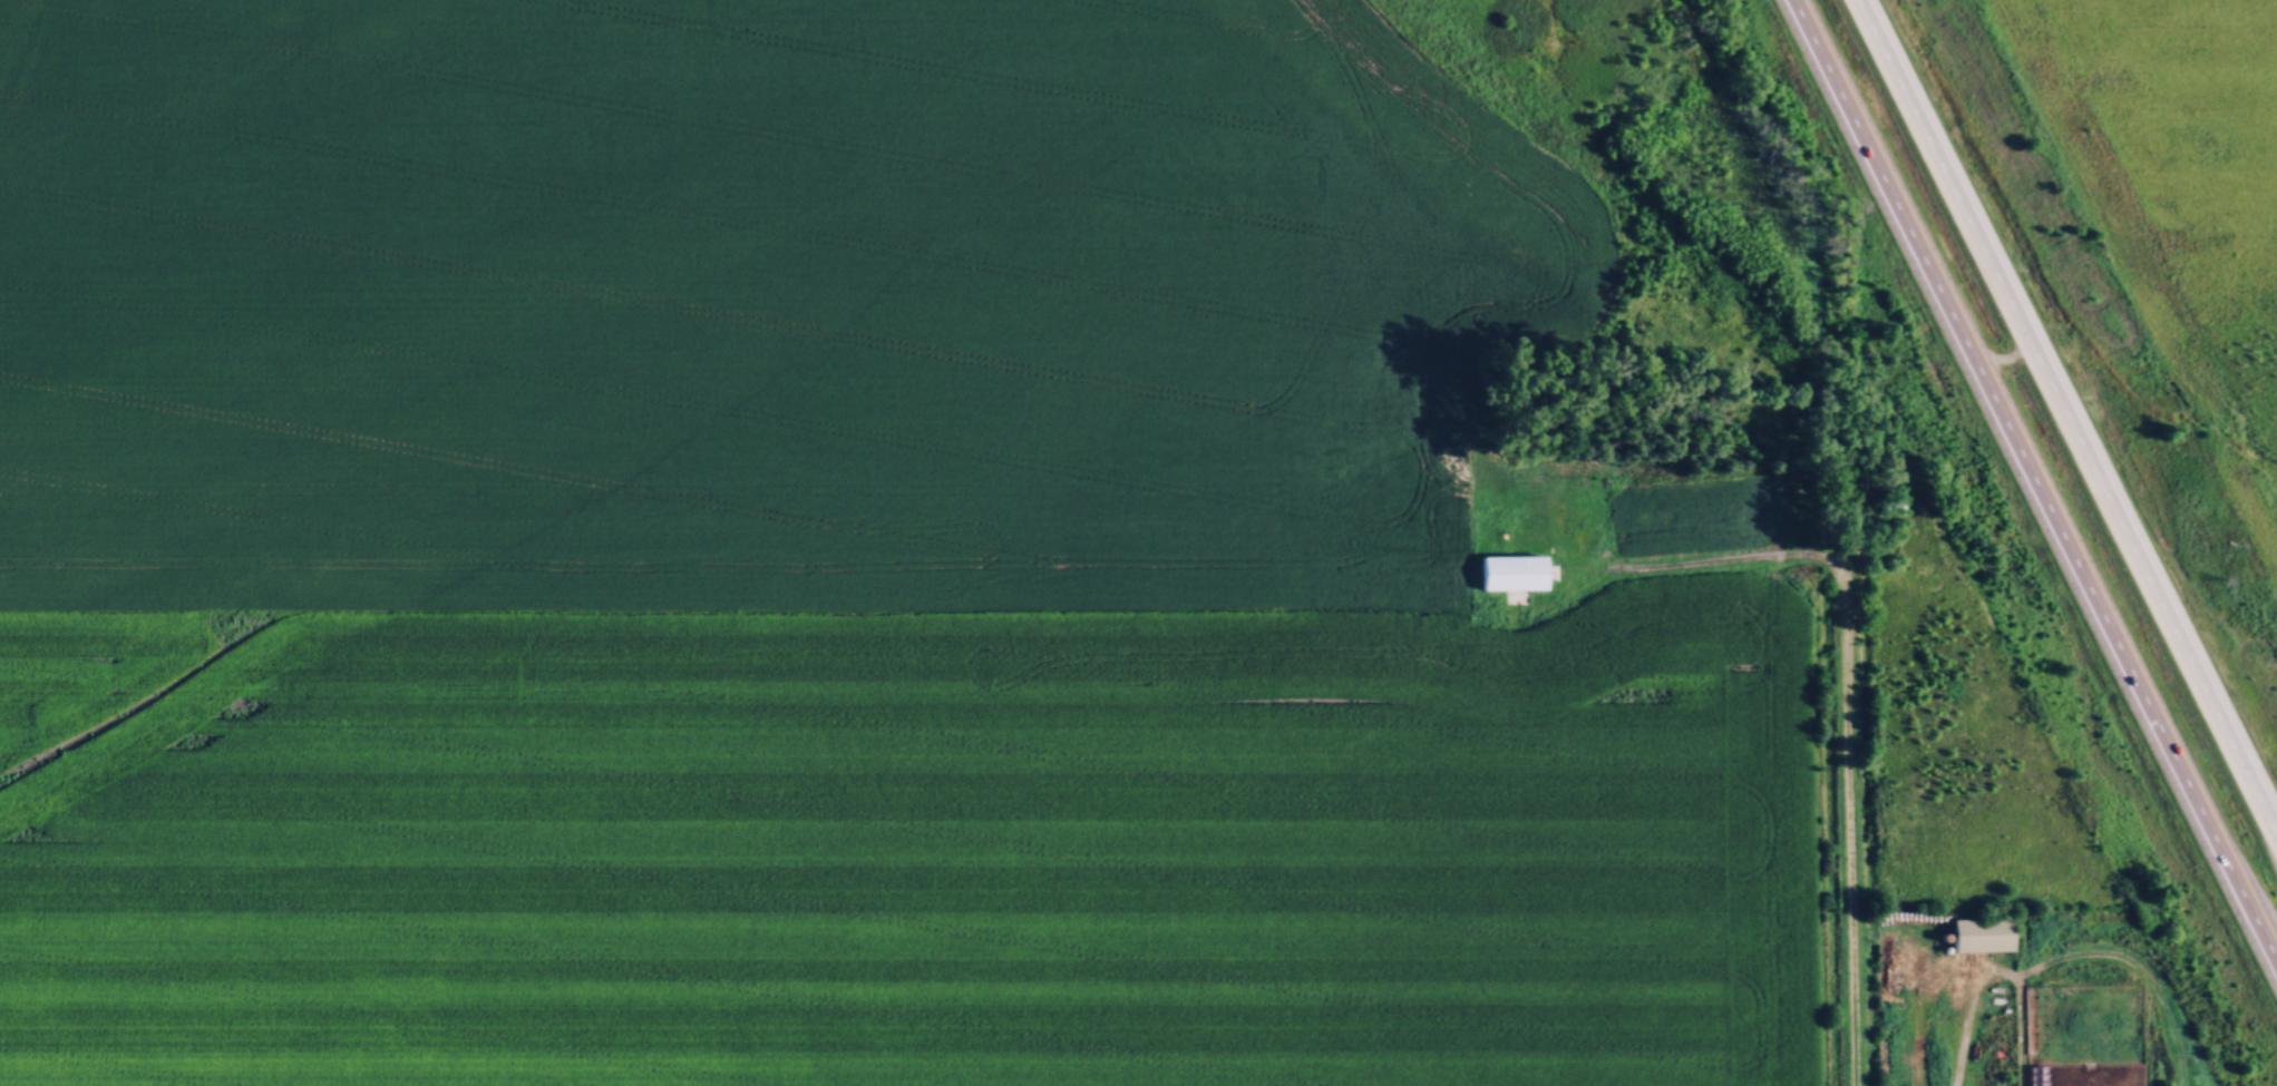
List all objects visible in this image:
road: (2069, 415)
building: (1590, 458)
road: (2032, 482)
building: (1897, 503)
building: (1655, 519)
road: (1753, 557)
building: (1514, 571)
road: (1848, 820)
building: (1982, 933)
building: (2038, 1075)

